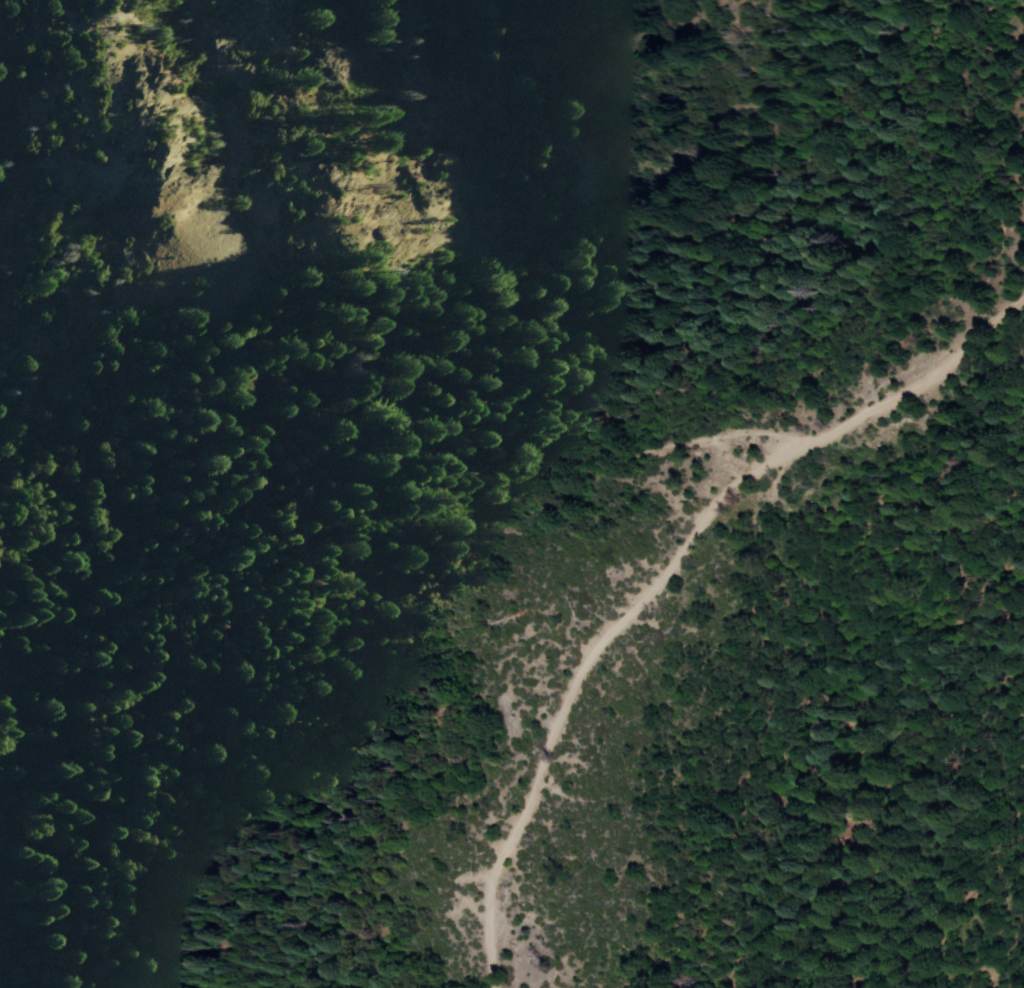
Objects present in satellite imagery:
road: (244, 511)
road: (671, 586)

